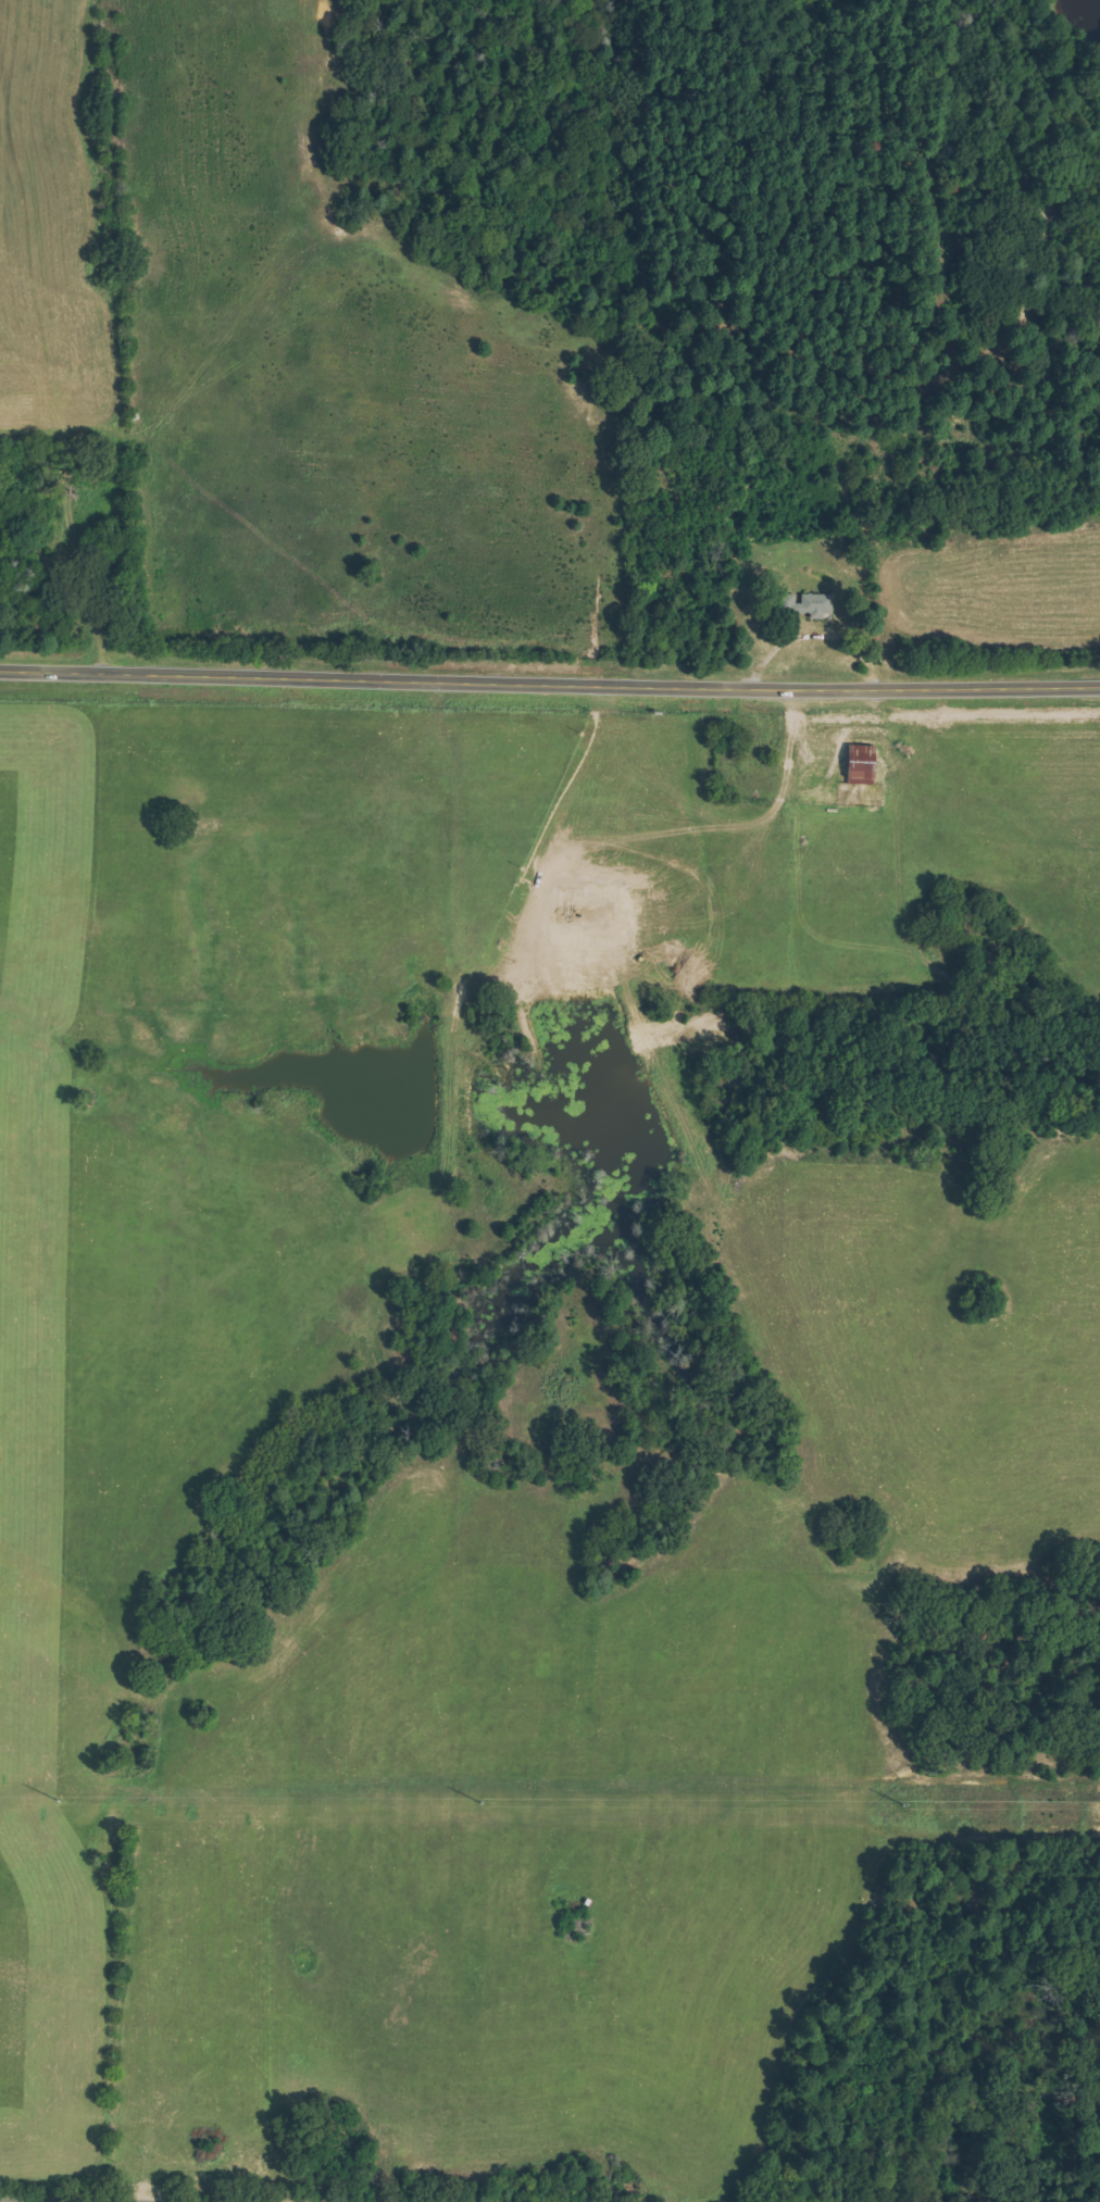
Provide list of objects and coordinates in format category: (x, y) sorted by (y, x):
building: (813, 605)
road: (550, 673)
building: (857, 765)
power tower: (54, 1801)
power tower: (478, 1802)
power tower: (905, 1807)
road: (3, 2201)

